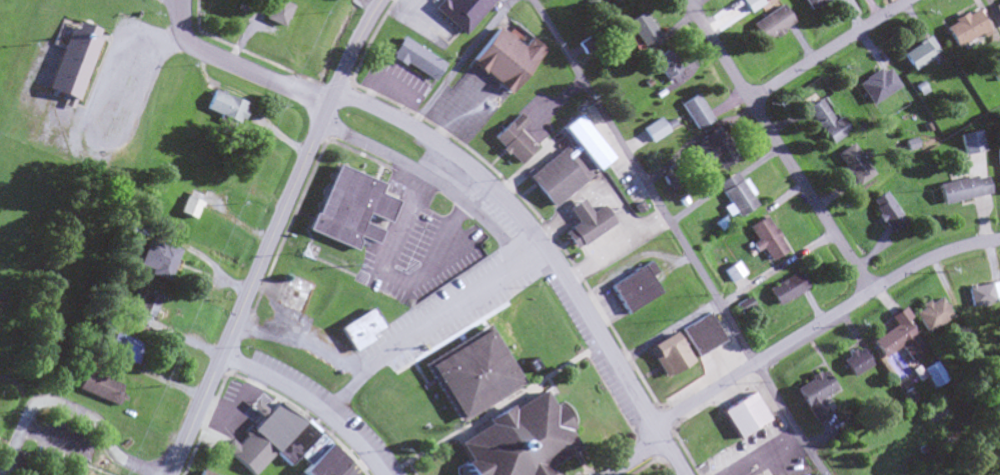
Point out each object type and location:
road: (404, 0)
building: (613, 1)
building: (811, 3)
building: (997, 9)
building: (461, 11)
building: (275, 12)
building: (771, 24)
building: (964, 28)
building: (640, 29)
road: (832, 50)
building: (918, 54)
building: (504, 57)
building: (416, 59)
building: (71, 60)
road: (234, 66)
building: (665, 68)
building: (995, 71)
building: (877, 86)
building: (223, 107)
building: (693, 112)
building: (827, 123)
building: (652, 131)
building: (512, 139)
building: (584, 141)
building: (971, 143)
road: (781, 145)
building: (716, 149)
road: (452, 154)
building: (998, 157)
building: (853, 165)
building: (553, 178)
road: (642, 182)
building: (999, 185)
building: (962, 190)
building: (734, 195)
building: (188, 207)
building: (349, 208)
building: (888, 213)
building: (584, 221)
road: (270, 236)
building: (765, 239)
road: (545, 251)
building: (158, 260)
building: (731, 273)
building: (632, 286)
building: (786, 289)
building: (293, 294)
building: (982, 294)
building: (143, 308)
building: (929, 314)
building: (358, 328)
building: (701, 333)
building: (897, 338)
road: (793, 340)
building: (123, 349)
building: (665, 353)
building: (854, 362)
building: (468, 373)
building: (931, 375)
building: (99, 388)
building: (813, 395)
road: (308, 403)
road: (70, 409)
building: (743, 413)
road: (789, 419)
building: (274, 426)
building: (513, 440)
building: (292, 442)
building: (308, 449)
building: (249, 452)
building: (322, 463)
building: (63, 473)
building: (201, 473)
building: (895, 474)

